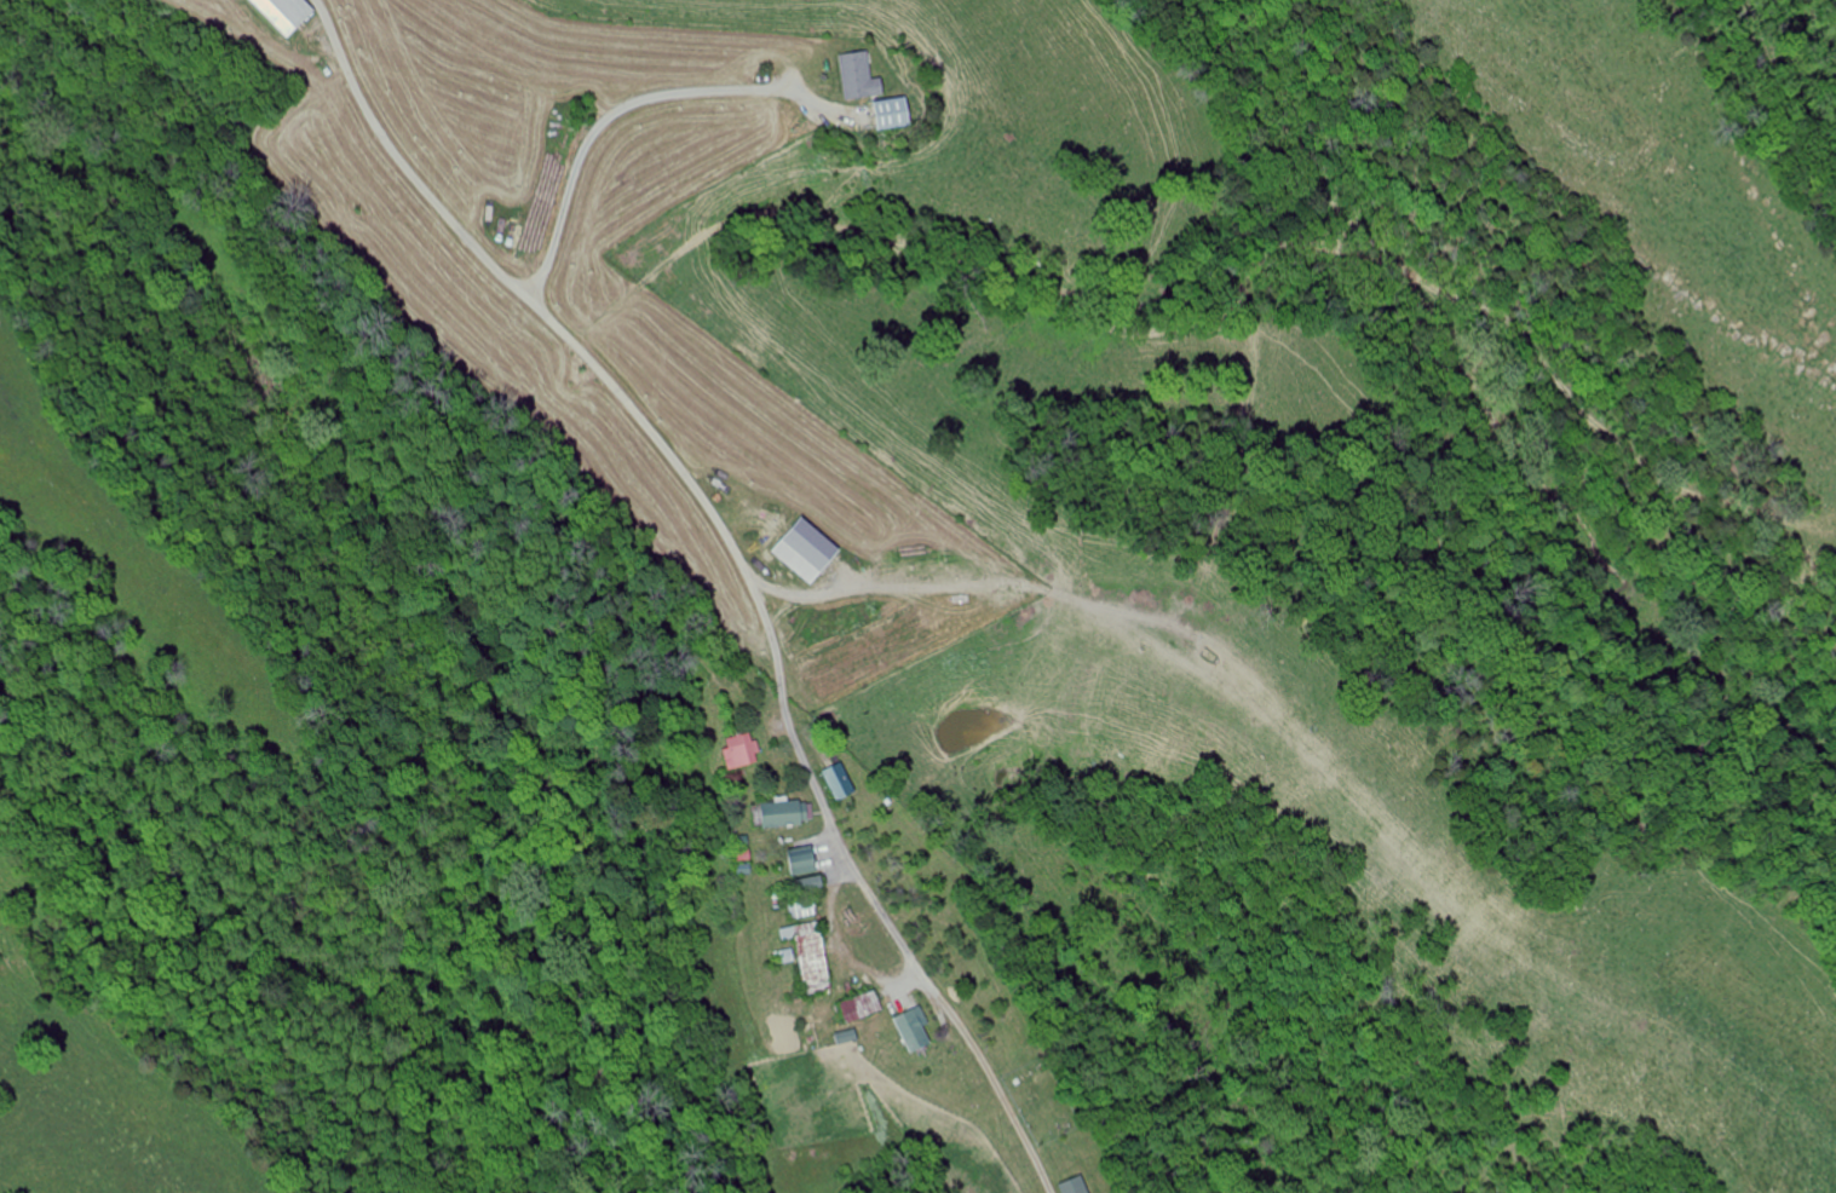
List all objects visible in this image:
building: (289, 15)
building: (853, 76)
road: (639, 104)
building: (884, 111)
building: (798, 548)
road: (742, 560)
building: (737, 750)
building: (836, 780)
building: (776, 813)
building: (798, 861)
building: (802, 884)
building: (805, 957)
building: (908, 1030)
building: (1069, 1186)

